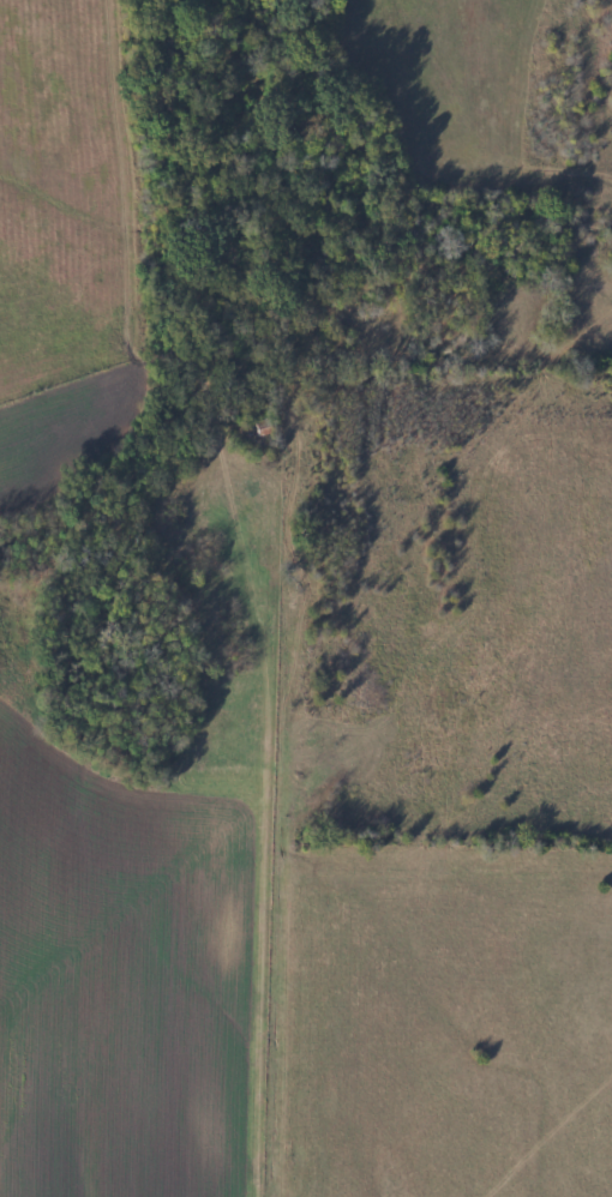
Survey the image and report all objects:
road: (275, 820)

